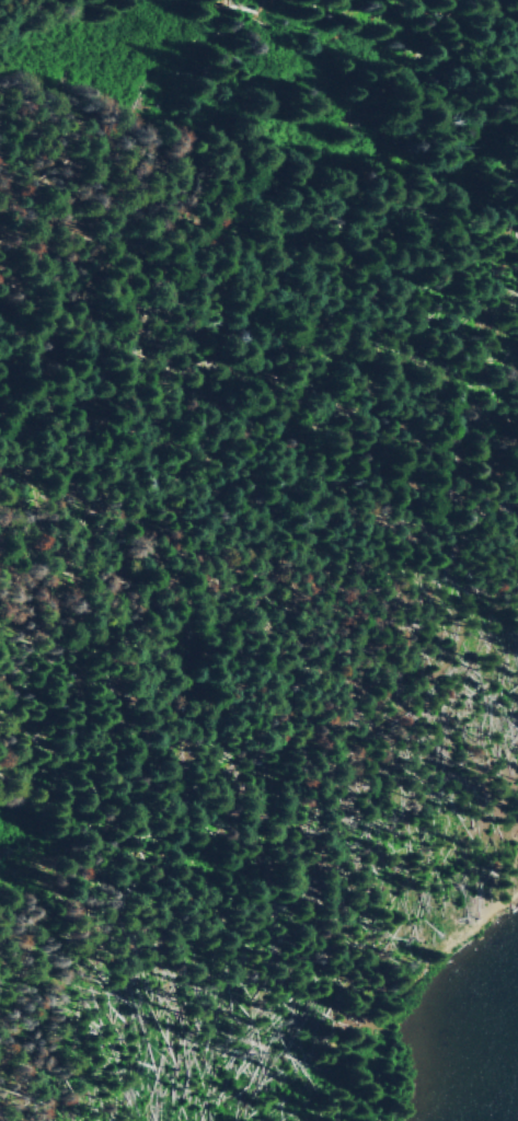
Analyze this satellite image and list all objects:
road: (335, 368)
road: (264, 740)
road: (416, 962)

